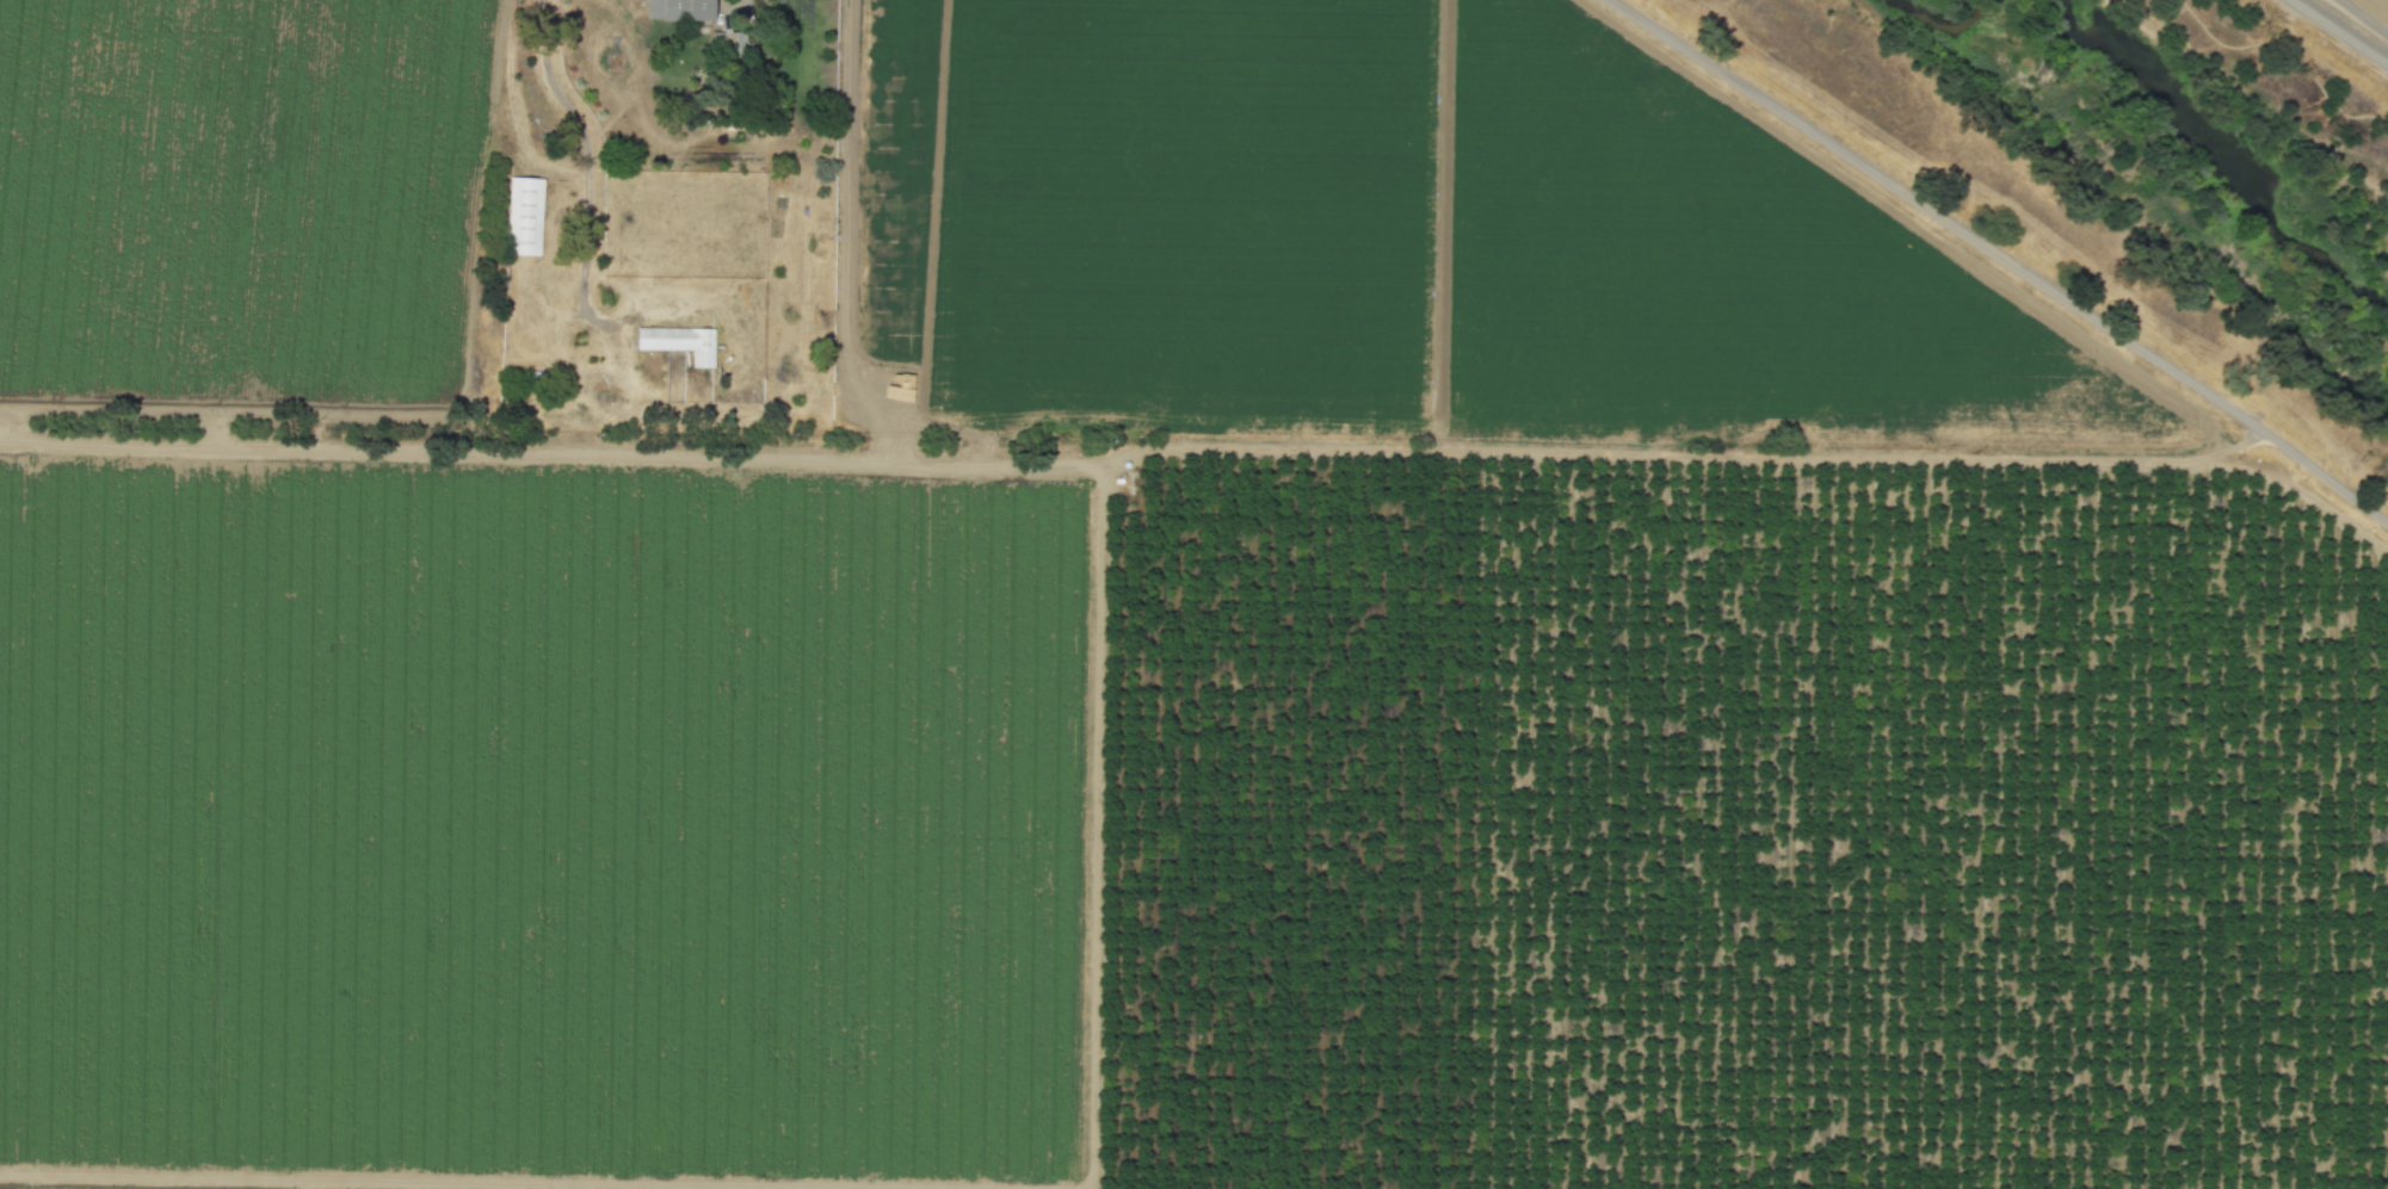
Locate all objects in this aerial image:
road: (733, 1)
crop: (2376, 7)
building: (679, 8)
road: (2339, 32)
river: (1942, 33)
building: (738, 39)
road: (2287, 52)
river: (2220, 156)
road: (586, 168)
building: (524, 215)
road: (2004, 256)
building: (680, 341)

